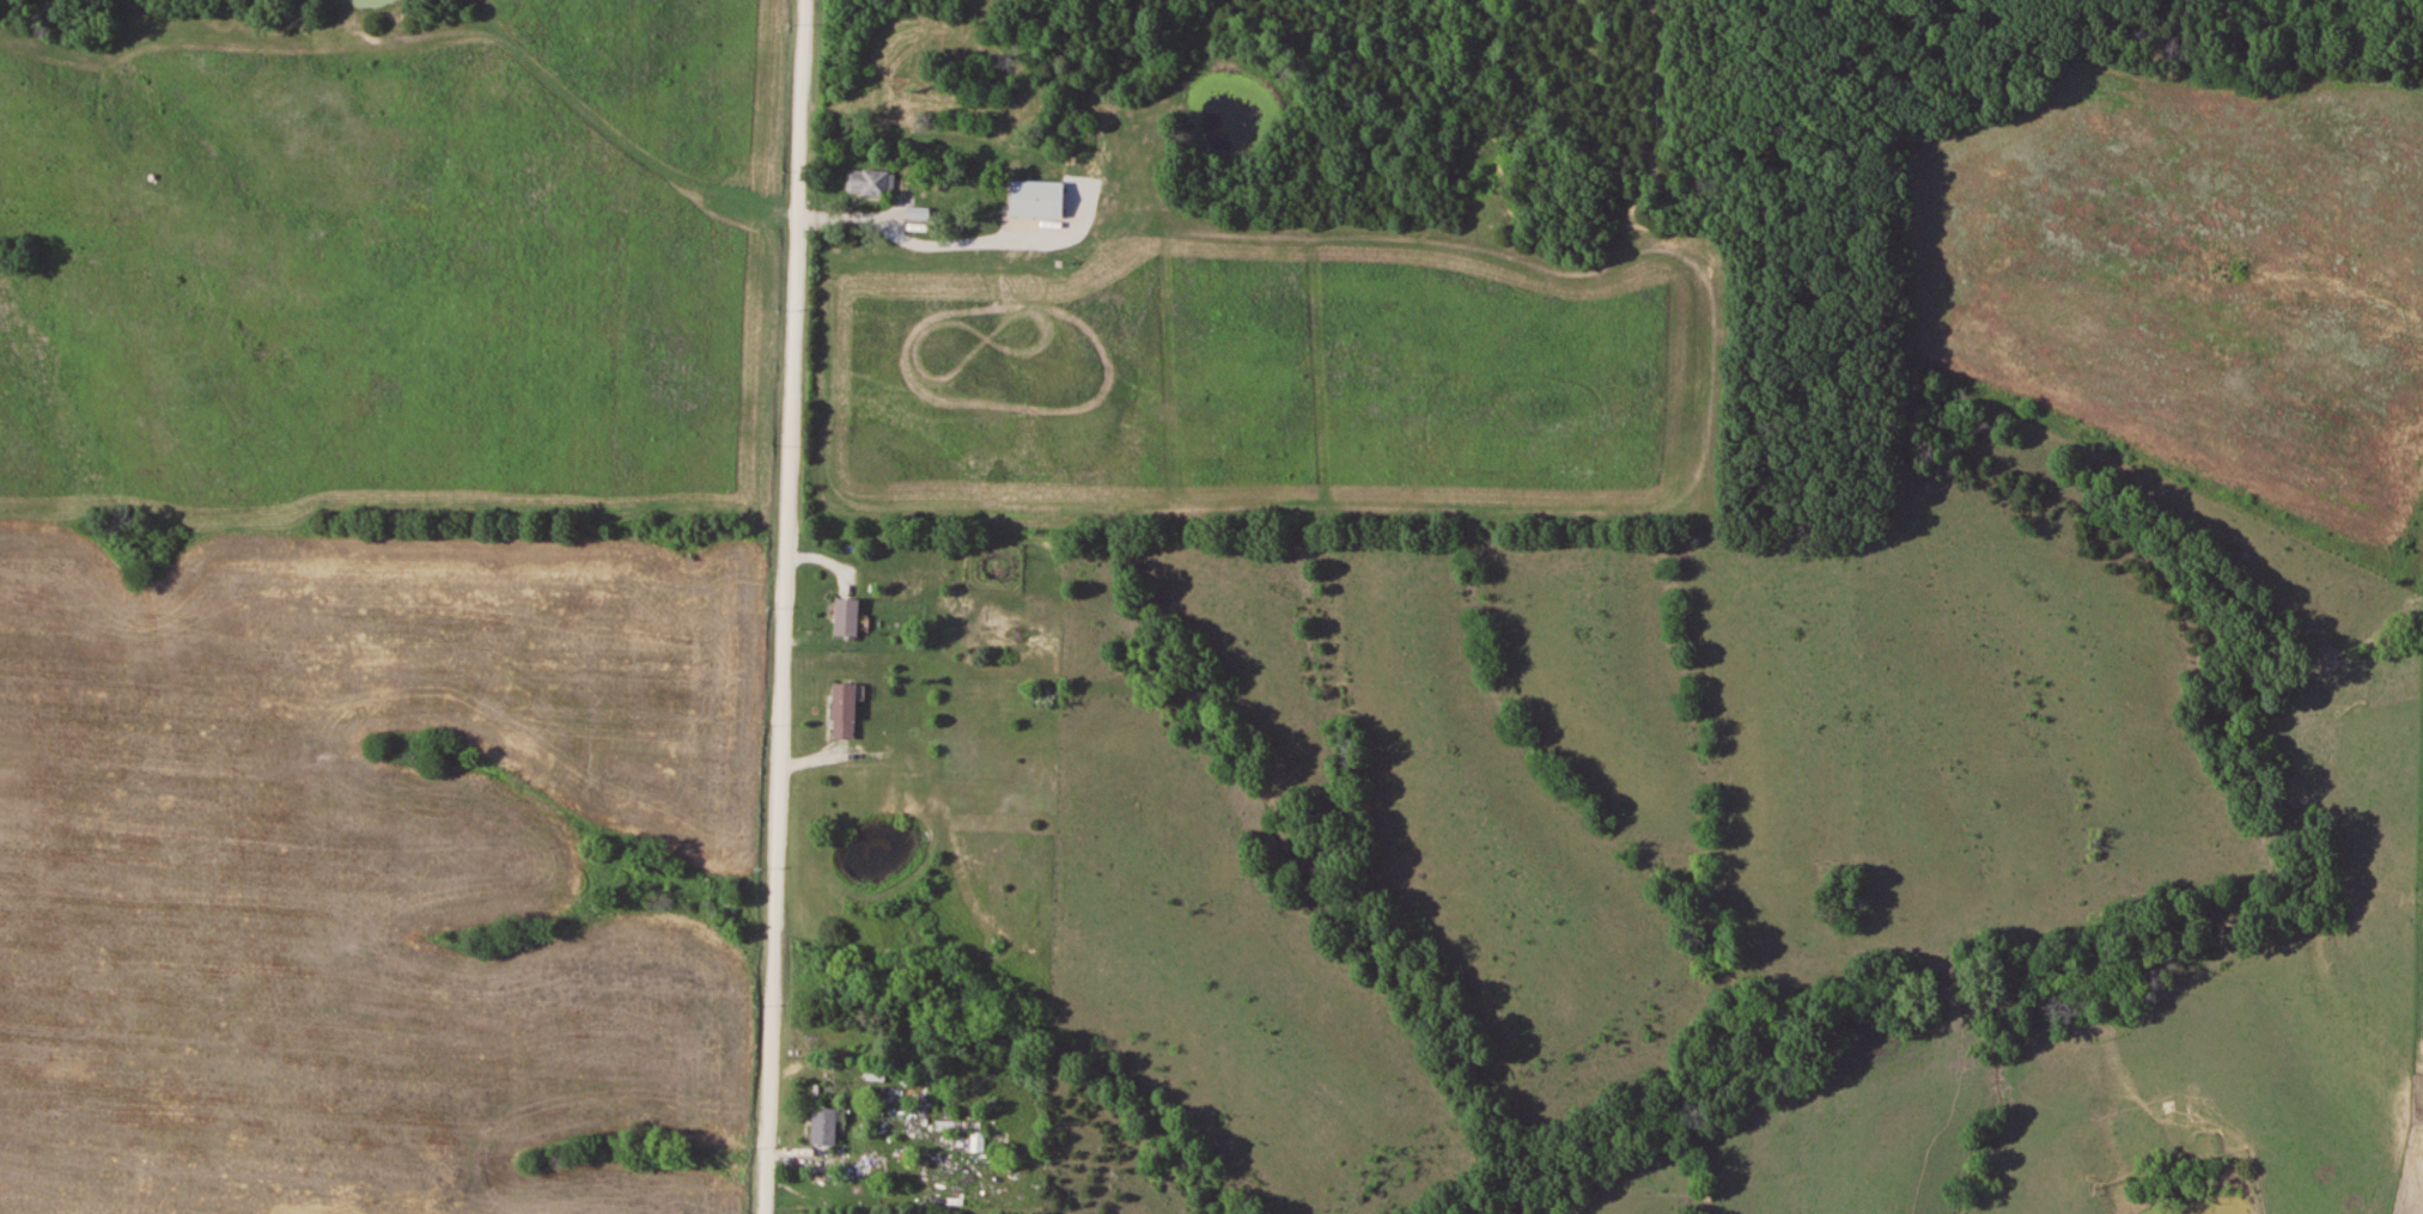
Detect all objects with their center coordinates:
building: (871, 183)
building: (1039, 200)
road: (784, 606)
building: (848, 616)
building: (846, 710)
building: (957, 1125)
building: (826, 1127)
building: (978, 1145)

